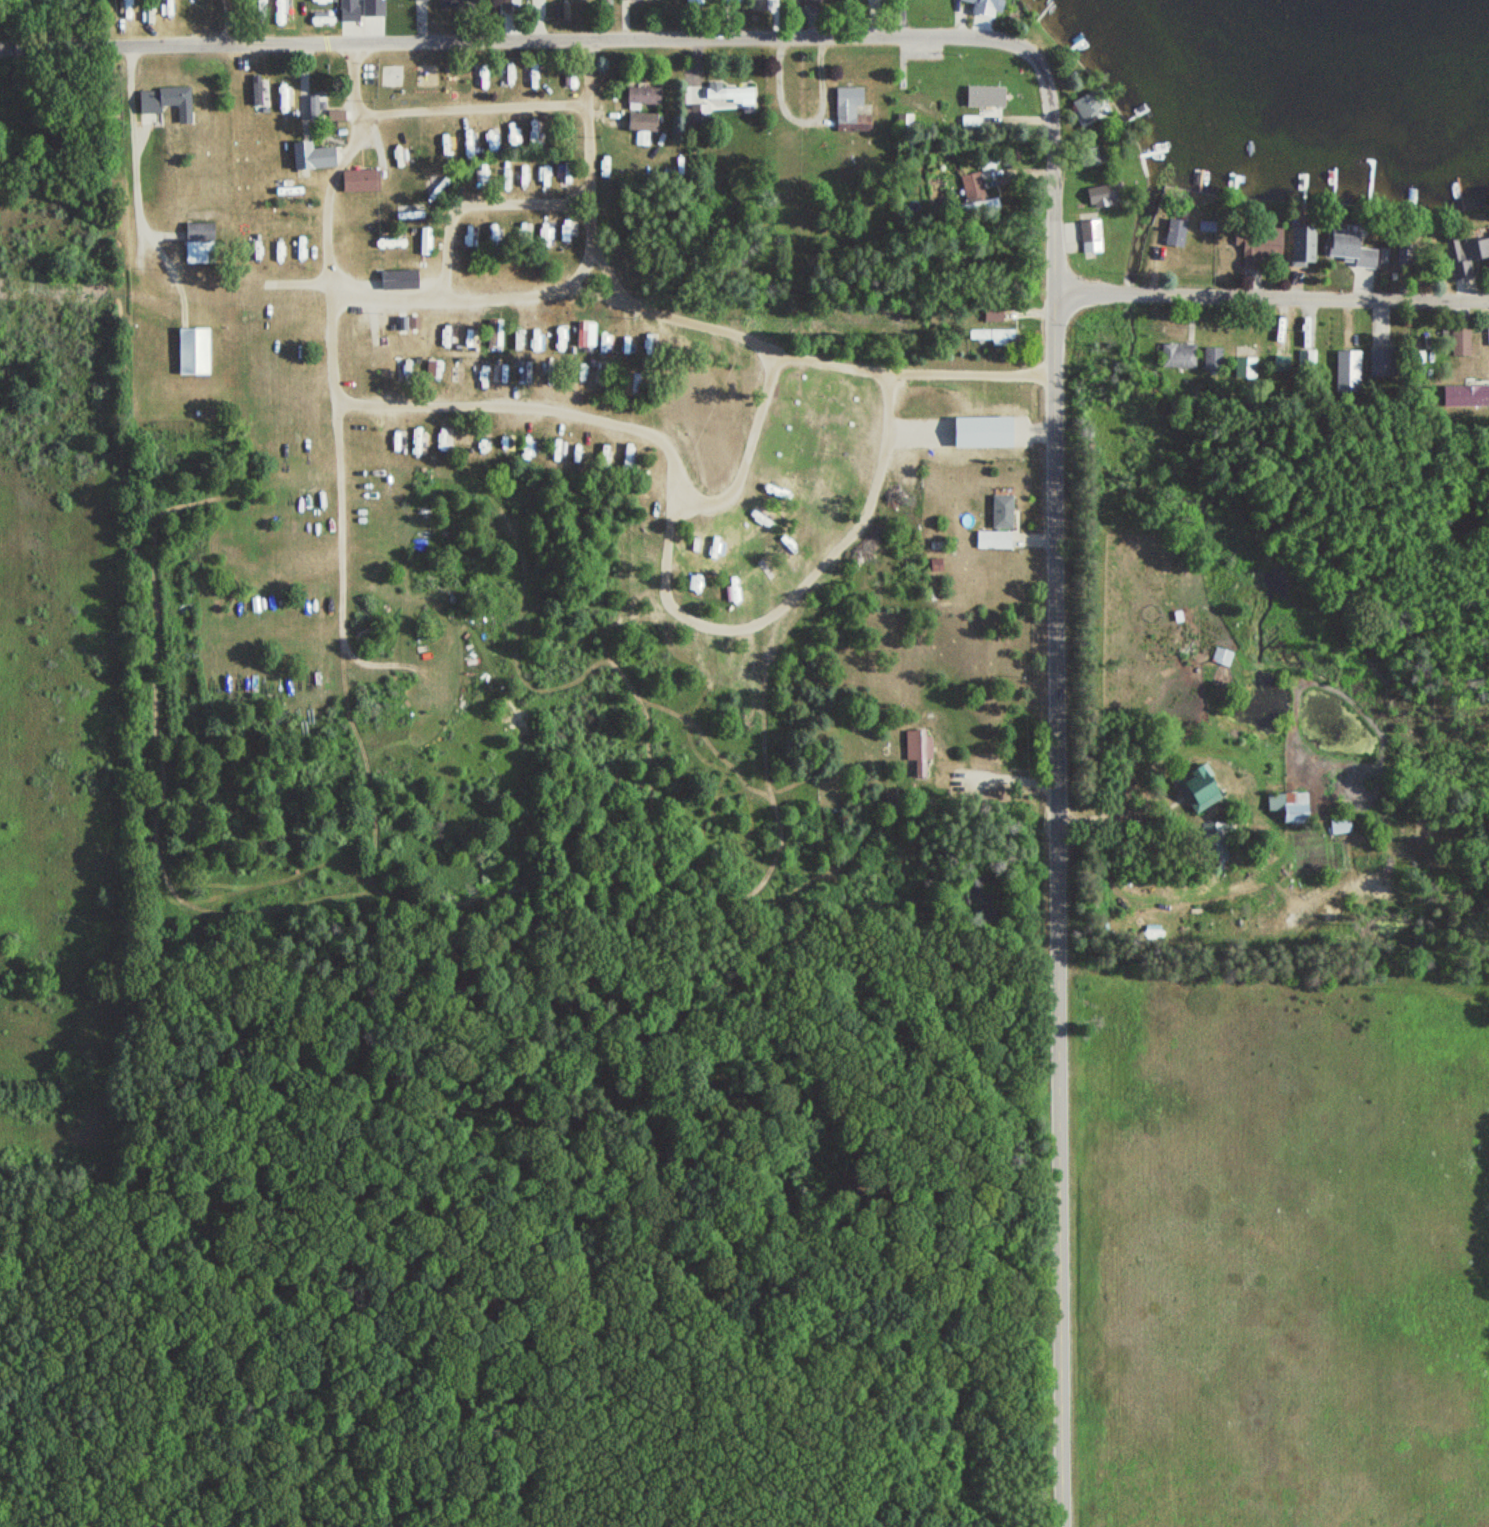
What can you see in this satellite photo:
building: (630, 0)
building: (803, 2)
building: (541, 3)
building: (510, 5)
building: (279, 10)
building: (347, 11)
road: (230, 20)
road: (643, 37)
road: (301, 82)
building: (643, 97)
building: (732, 98)
building: (979, 100)
building: (165, 103)
building: (910, 105)
building: (1086, 106)
road: (461, 110)
building: (850, 112)
building: (642, 122)
building: (1089, 157)
building: (310, 158)
road: (131, 184)
building: (354, 188)
building: (969, 188)
building: (1098, 197)
building: (981, 209)
building: (1175, 233)
building: (1090, 238)
building: (1270, 243)
building: (198, 244)
building: (1303, 247)
building: (1354, 252)
building: (1468, 254)
building: (399, 281)
road: (442, 281)
road: (552, 290)
road: (1273, 295)
building: (989, 338)
building: (189, 340)
building: (1461, 342)
building: (1178, 356)
building: (1214, 361)
building: (1309, 361)
building: (1247, 363)
building: (1383, 365)
building: (1283, 366)
building: (1351, 372)
building: (1470, 395)
building: (1001, 512)
building: (992, 541)
building: (1222, 658)
building: (919, 754)
road: (1008, 779)
building: (1196, 790)
building: (1288, 807)
road: (1114, 817)
building: (1339, 826)
building: (1217, 845)
road: (1061, 911)

